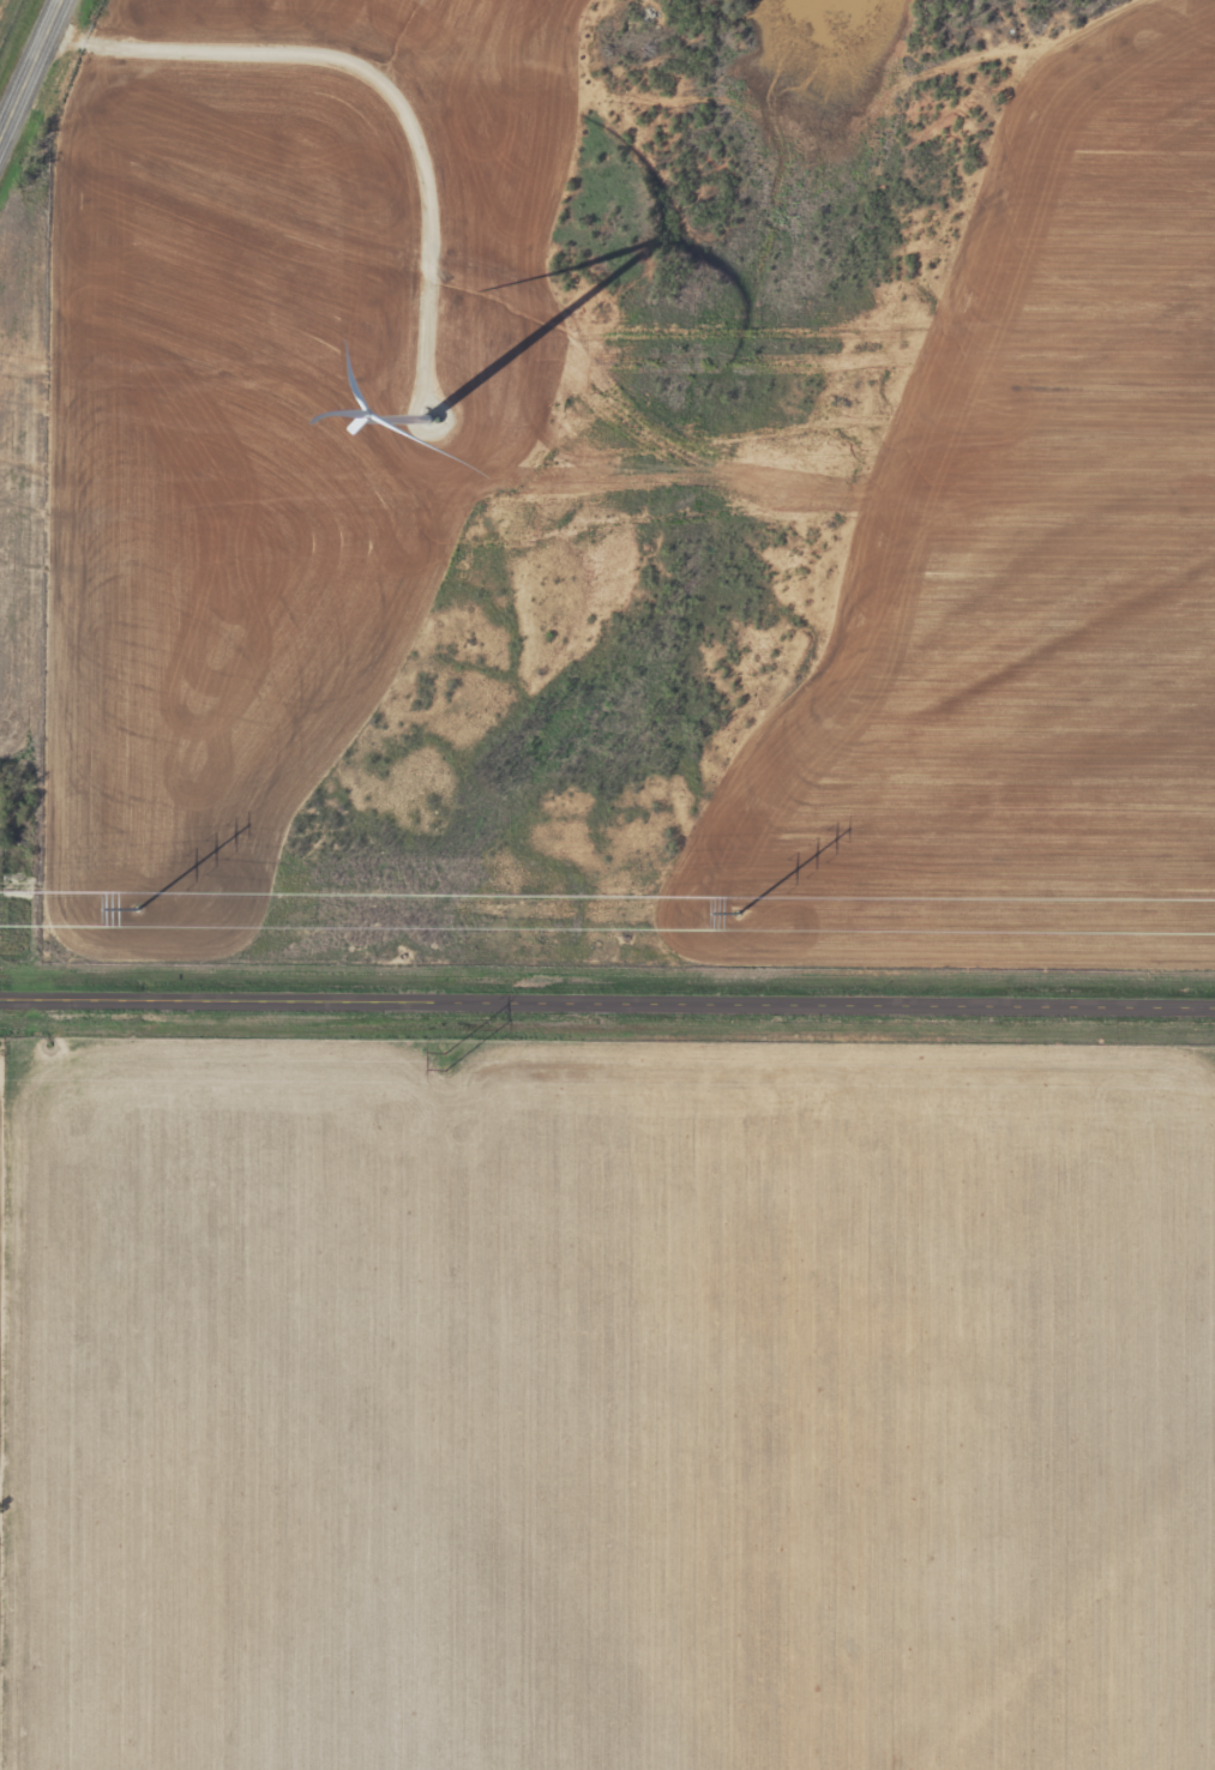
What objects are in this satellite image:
road: (287, 43)
road: (35, 80)
wind turbine: (438, 421)
power tower: (136, 909)
power tower: (738, 913)
road: (607, 1007)
power tower: (441, 1061)

